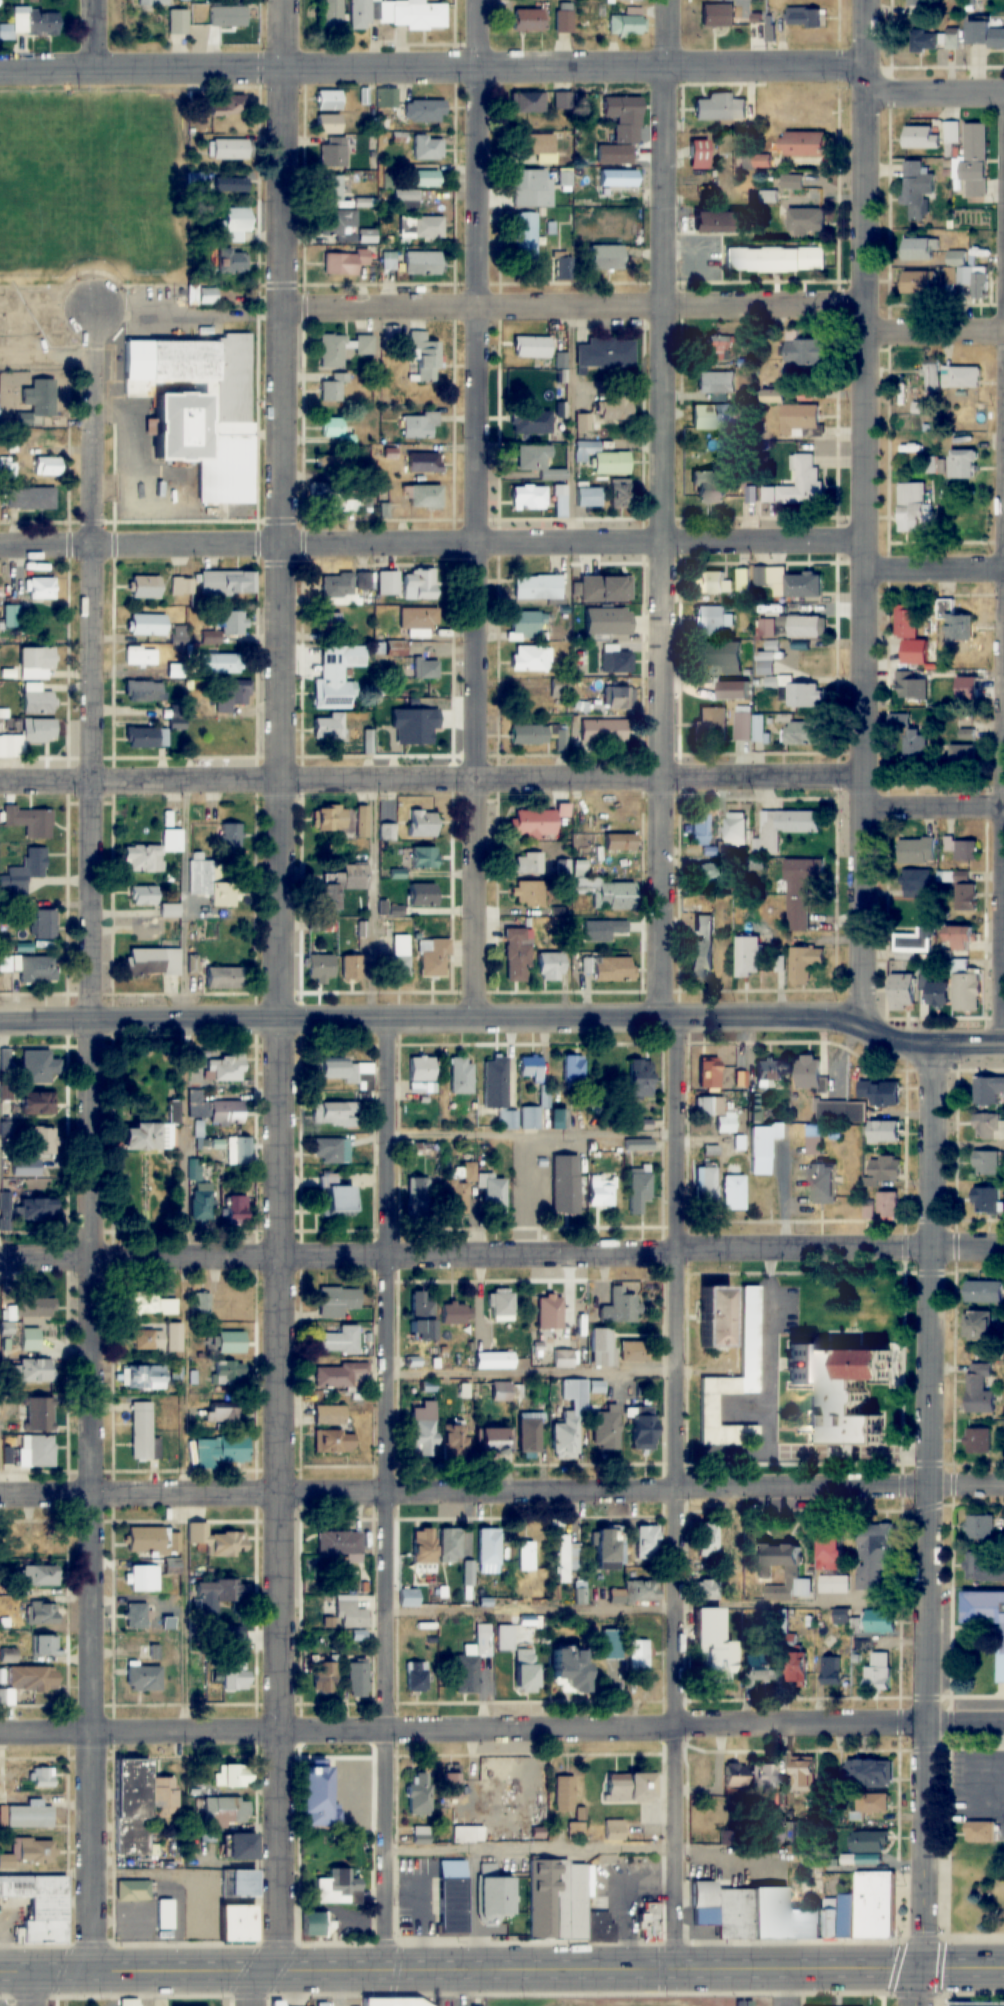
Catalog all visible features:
building: (626, 1)
building: (153, 2)
building: (917, 2)
building: (331, 14)
building: (359, 14)
building: (410, 14)
building: (717, 15)
building: (227, 16)
building: (803, 18)
building: (525, 20)
building: (178, 21)
building: (34, 22)
building: (563, 22)
building: (627, 24)
road: (863, 31)
road: (96, 34)
building: (983, 35)
building: (953, 39)
building: (923, 41)
road: (431, 66)
road: (933, 95)
building: (388, 97)
building: (326, 100)
building: (540, 102)
building: (227, 105)
building: (719, 107)
building: (425, 111)
building: (622, 117)
building: (327, 124)
building: (951, 133)
building: (919, 138)
building: (801, 144)
building: (538, 147)
building: (428, 148)
building: (228, 149)
road: (665, 152)
building: (332, 153)
building: (698, 155)
building: (973, 160)
building: (426, 178)
building: (617, 179)
building: (231, 186)
building: (916, 186)
building: (331, 188)
building: (530, 188)
building: (772, 198)
building: (806, 221)
building: (337, 222)
building: (718, 222)
building: (233, 224)
building: (422, 228)
building: (366, 236)
building: (525, 238)
building: (919, 249)
building: (604, 257)
building: (774, 259)
building: (344, 263)
building: (422, 263)
building: (233, 264)
building: (565, 267)
building: (953, 268)
building: (979, 284)
building: (202, 296)
road: (574, 304)
road: (935, 332)
building: (342, 347)
building: (531, 347)
building: (716, 347)
building: (605, 352)
road: (663, 353)
building: (803, 353)
building: (425, 358)
building: (931, 376)
building: (960, 377)
building: (715, 382)
building: (332, 388)
building: (40, 400)
building: (613, 407)
building: (197, 408)
building: (713, 416)
building: (800, 420)
building: (531, 422)
building: (418, 424)
building: (330, 427)
building: (601, 457)
road: (663, 460)
building: (422, 462)
building: (539, 462)
building: (386, 463)
building: (328, 464)
building: (962, 464)
building: (45, 466)
building: (797, 484)
building: (708, 487)
building: (620, 493)
building: (31, 497)
building: (424, 497)
building: (527, 497)
building: (338, 498)
building: (587, 498)
building: (561, 502)
building: (913, 506)
road: (480, 509)
road: (865, 541)
road: (432, 543)
road: (934, 566)
building: (363, 581)
building: (742, 581)
building: (709, 583)
building: (788, 583)
building: (226, 584)
building: (406, 584)
building: (337, 585)
building: (183, 586)
building: (144, 587)
building: (39, 588)
building: (537, 588)
building: (600, 589)
building: (10, 615)
building: (418, 619)
building: (606, 621)
building: (710, 621)
building: (331, 623)
building: (524, 623)
building: (955, 623)
building: (146, 625)
building: (801, 626)
building: (226, 628)
building: (909, 636)
building: (716, 654)
building: (140, 657)
building: (530, 659)
building: (616, 660)
building: (35, 663)
building: (218, 664)
building: (426, 668)
building: (764, 668)
building: (335, 676)
building: (911, 687)
building: (732, 691)
building: (144, 692)
building: (232, 695)
building: (802, 696)
building: (619, 698)
building: (36, 700)
building: (710, 725)
building: (748, 725)
building: (409, 726)
building: (330, 728)
building: (603, 732)
building: (801, 734)
building: (538, 735)
building: (27, 737)
building: (146, 738)
building: (915, 747)
building: (962, 756)
road: (662, 767)
road: (430, 780)
road: (932, 804)
building: (169, 819)
building: (330, 819)
building: (604, 819)
building: (32, 821)
building: (363, 822)
building: (532, 823)
building: (421, 824)
building: (784, 828)
building: (700, 830)
building: (735, 830)
building: (388, 832)
building: (231, 838)
building: (619, 842)
building: (963, 849)
building: (916, 851)
building: (150, 855)
building: (423, 859)
building: (527, 863)
building: (604, 865)
building: (25, 871)
building: (708, 874)
building: (208, 882)
building: (914, 884)
building: (338, 886)
building: (801, 891)
building: (526, 893)
building: (143, 895)
building: (422, 895)
building: (612, 896)
building: (966, 898)
building: (170, 911)
building: (45, 924)
building: (148, 930)
building: (602, 930)
building: (957, 938)
building: (914, 942)
building: (700, 948)
building: (433, 957)
building: (748, 957)
building: (398, 960)
building: (516, 961)
building: (152, 962)
building: (804, 964)
building: (549, 966)
building: (31, 968)
building: (319, 968)
building: (350, 968)
building: (609, 968)
building: (223, 978)
road: (283, 984)
building: (935, 990)
building: (966, 991)
building: (901, 992)
road: (504, 1018)
building: (37, 1066)
building: (224, 1068)
building: (530, 1068)
building: (572, 1069)
building: (346, 1072)
building: (707, 1074)
building: (810, 1074)
building: (420, 1075)
building: (768, 1075)
building: (460, 1076)
building: (639, 1078)
building: (740, 1080)
building: (495, 1083)
building: (988, 1090)
building: (880, 1093)
building: (35, 1103)
building: (598, 1103)
building: (196, 1104)
building: (842, 1112)
building: (224, 1113)
building: (557, 1113)
building: (718, 1114)
building: (334, 1115)
building: (529, 1118)
building: (507, 1120)
building: (989, 1127)
building: (150, 1132)
building: (884, 1132)
road: (532, 1135)
road: (91, 1137)
building: (40, 1140)
building: (814, 1142)
building: (762, 1148)
building: (740, 1149)
building: (238, 1151)
building: (332, 1151)
building: (986, 1163)
building: (885, 1168)
building: (822, 1181)
building: (565, 1184)
building: (733, 1186)
building: (457, 1189)
building: (706, 1189)
building: (638, 1190)
building: (538, 1191)
building: (599, 1191)
building: (490, 1192)
building: (417, 1196)
building: (335, 1197)
building: (987, 1199)
building: (202, 1202)
building: (888, 1202)
building: (235, 1208)
building: (869, 1208)
building: (24, 1210)
road: (695, 1248)
road: (194, 1257)
building: (984, 1290)
building: (335, 1301)
building: (149, 1304)
building: (202, 1305)
building: (501, 1305)
building: (621, 1306)
building: (34, 1307)
parking lot: (787, 1308)
building: (549, 1311)
building: (455, 1314)
building: (420, 1315)
building: (716, 1315)
building: (978, 1323)
building: (157, 1338)
building: (29, 1339)
building: (338, 1340)
building: (228, 1342)
building: (600, 1347)
building: (635, 1351)
building: (562, 1358)
building: (493, 1360)
building: (33, 1369)
road: (678, 1370)
building: (228, 1373)
road: (533, 1373)
building: (342, 1375)
building: (143, 1376)
building: (734, 1377)
road: (772, 1382)
building: (981, 1388)
building: (495, 1391)
building: (846, 1393)
road: (748, 1407)
building: (220, 1412)
building: (35, 1413)
building: (573, 1413)
building: (328, 1415)
building: (639, 1427)
building: (605, 1429)
building: (420, 1430)
building: (143, 1432)
building: (529, 1436)
building: (978, 1439)
building: (450, 1440)
building: (332, 1441)
building: (486, 1441)
building: (34, 1450)
building: (221, 1451)
road: (740, 1451)
road: (847, 1452)
road: (895, 1452)
road: (502, 1489)
road: (388, 1494)
road: (928, 1525)
building: (980, 1525)
building: (148, 1540)
building: (707, 1540)
building: (730, 1540)
building: (218, 1542)
building: (646, 1542)
building: (339, 1544)
building: (450, 1545)
building: (605, 1548)
building: (422, 1550)
building: (488, 1550)
building: (828, 1553)
building: (526, 1556)
building: (877, 1557)
building: (567, 1558)
building: (985, 1565)
building: (171, 1566)
building: (764, 1572)
building: (37, 1575)
building: (145, 1578)
building: (834, 1584)
building: (705, 1590)
building: (641, 1591)
building: (580, 1593)
building: (215, 1597)
building: (617, 1597)
building: (408, 1598)
road: (658, 1609)
building: (41, 1613)
building: (351, 1615)
building: (136, 1616)
building: (987, 1617)
building: (881, 1619)
building: (707, 1620)
building: (784, 1622)
building: (858, 1624)
road: (962, 1629)
building: (610, 1645)
building: (44, 1646)
building: (152, 1652)
building: (638, 1656)
building: (518, 1660)
building: (472, 1661)
building: (712, 1663)
building: (794, 1665)
building: (757, 1668)
building: (563, 1669)
building: (833, 1671)
building: (234, 1673)
building: (878, 1673)
building: (416, 1676)
building: (143, 1678)
building: (322, 1678)
building: (30, 1679)
building: (357, 1679)
road: (1000, 1703)
road: (502, 1728)
building: (802, 1772)
building: (868, 1773)
building: (733, 1775)
building: (232, 1776)
building: (764, 1776)
road: (981, 1776)
building: (41, 1777)
building: (452, 1782)
building: (628, 1787)
parking lot: (979, 1788)
building: (316, 1794)
building: (416, 1794)
building: (565, 1794)
building: (164, 1798)
building: (869, 1805)
building: (130, 1807)
building: (224, 1813)
building: (26, 1815)
building: (614, 1830)
building: (788, 1831)
building: (981, 1831)
building: (468, 1834)
building: (421, 1835)
building: (870, 1840)
building: (237, 1847)
road: (676, 1847)
road: (531, 1849)
building: (28, 1852)
building: (849, 1858)
road: (46, 1873)
building: (237, 1883)
building: (339, 1888)
building: (134, 1890)
building: (494, 1894)
building: (451, 1897)
building: (875, 1903)
building: (564, 1904)
building: (39, 1905)
building: (719, 1907)
building: (767, 1912)
building: (164, 1914)
building: (848, 1914)
building: (831, 1916)
building: (649, 1920)
building: (805, 1922)
building: (234, 1923)
building: (316, 1924)
road: (502, 1969)
traffic signals: (917, 1970)
road: (34, 1987)
road: (147, 1987)
road: (253, 1987)
road: (796, 1988)
parking lot: (790, 2001)
building: (130, 2002)
building: (391, 2002)
track: (634, 2002)
building: (978, 2004)

